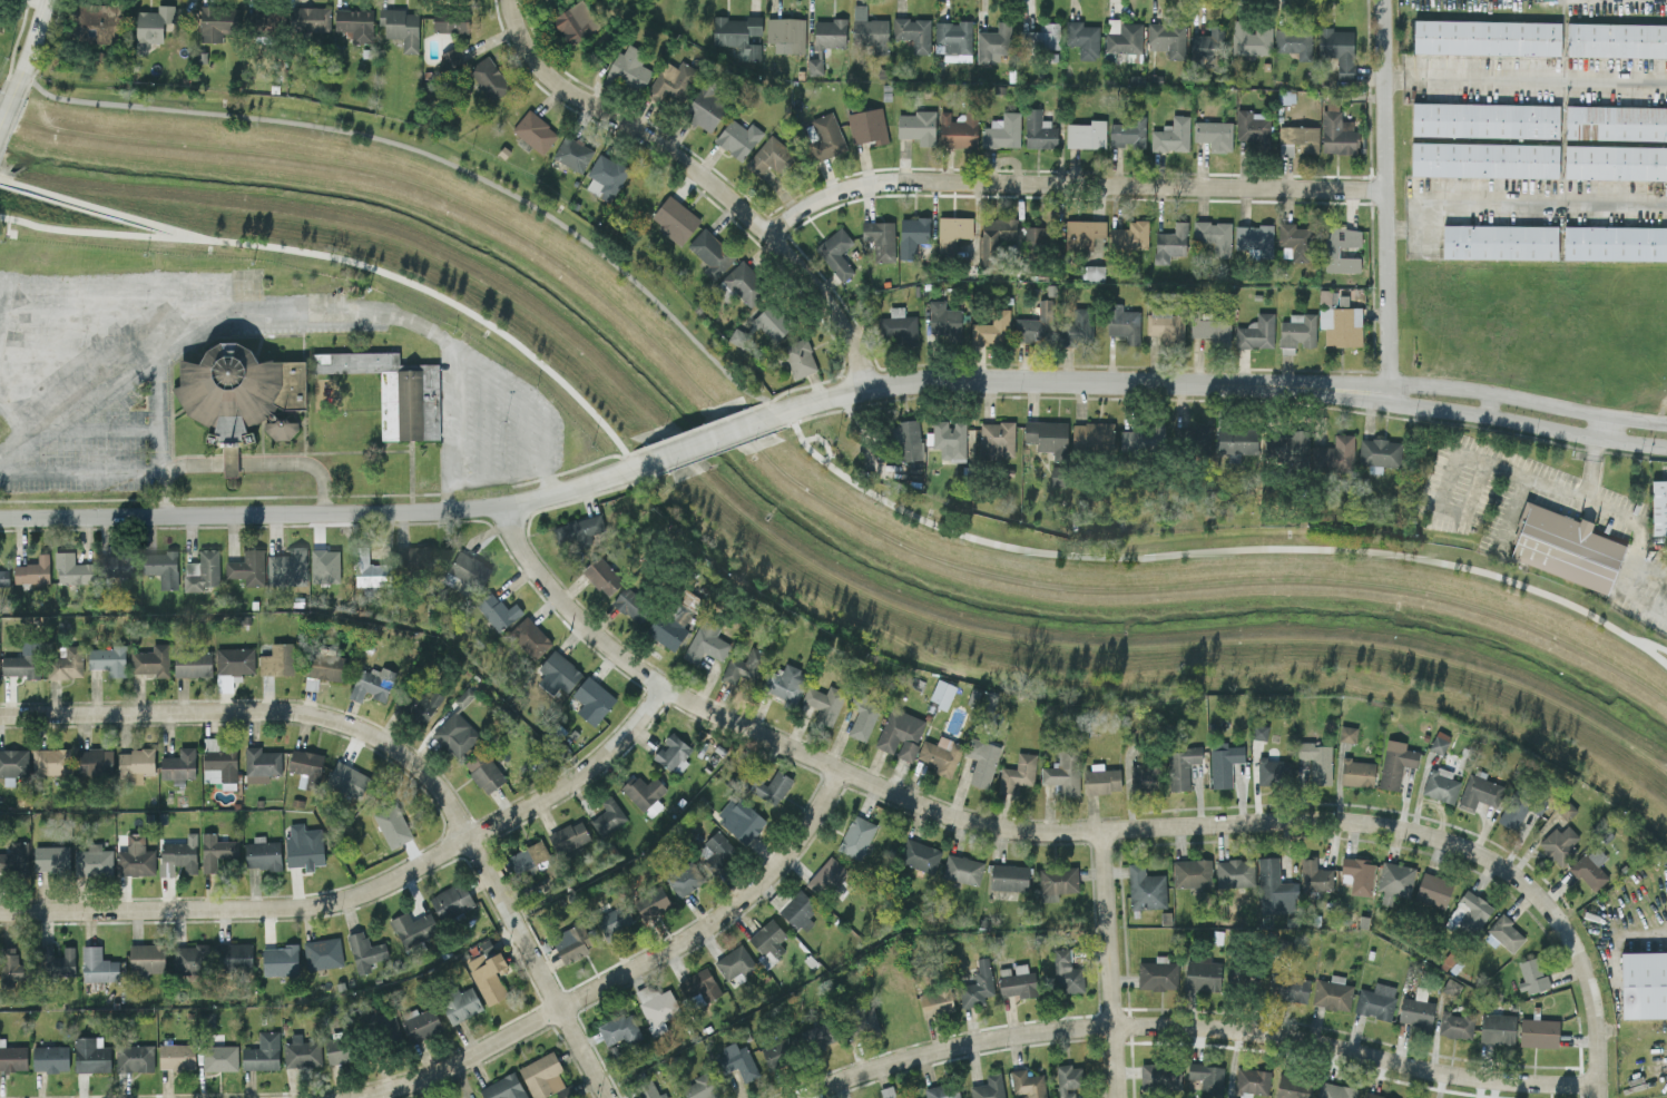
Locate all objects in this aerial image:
building: (312, 18)
building: (98, 21)
building: (216, 21)
building: (451, 21)
building: (355, 22)
building: (570, 24)
building: (151, 26)
building: (400, 27)
building: (870, 30)
building: (830, 32)
building: (913, 32)
building: (786, 33)
building: (738, 35)
building: (1040, 37)
building: (1487, 37)
building: (1082, 38)
building: (1167, 38)
building: (1251, 38)
building: (954, 39)
building: (1616, 39)
building: (1294, 40)
building: (994, 43)
building: (1205, 48)
building: (1338, 49)
road: (27, 50)
building: (814, 66)
building: (630, 68)
building: (489, 77)
building: (673, 79)
road: (1526, 79)
building: (705, 106)
road: (3, 109)
building: (1484, 119)
building: (1616, 122)
building: (867, 126)
building: (918, 126)
building: (1252, 126)
building: (958, 129)
building: (1039, 129)
building: (535, 130)
building: (1003, 130)
building: (1128, 130)
building: (1337, 133)
building: (1087, 134)
building: (1214, 134)
building: (1171, 135)
building: (825, 136)
building: (738, 138)
building: (1297, 138)
building: (572, 153)
building: (769, 156)
building: (1484, 159)
building: (1615, 161)
building: (606, 176)
road: (702, 177)
road: (1069, 184)
road: (1385, 200)
road: (1512, 204)
road: (97, 208)
building: (675, 218)
building: (867, 231)
building: (952, 233)
building: (1086, 234)
building: (912, 235)
building: (1130, 235)
building: (1214, 235)
building: (994, 237)
building: (1034, 237)
building: (1254, 237)
building: (1293, 238)
building: (883, 241)
building: (1499, 241)
building: (1168, 242)
building: (1615, 243)
building: (1331, 251)
building: (710, 253)
building: (836, 253)
road: (352, 259)
building: (1091, 272)
road: (146, 275)
road: (1, 281)
building: (741, 284)
road: (312, 312)
building: (945, 320)
building: (1340, 321)
building: (772, 322)
building: (1124, 323)
building: (1037, 324)
building: (1166, 325)
building: (898, 326)
building: (1076, 327)
building: (991, 329)
building: (1212, 329)
building: (1256, 332)
building: (1296, 332)
building: (738, 336)
road: (77, 354)
building: (797, 357)
road: (136, 372)
road: (1030, 379)
road: (1347, 383)
building: (300, 390)
road: (155, 396)
road: (537, 396)
road: (1346, 396)
road: (1528, 400)
road: (483, 423)
road: (1528, 423)
road: (1598, 425)
road: (46, 427)
road: (101, 429)
road: (520, 431)
building: (1092, 435)
building: (1048, 437)
building: (1193, 437)
building: (1141, 438)
building: (997, 439)
building: (906, 440)
building: (950, 440)
building: (1236, 440)
road: (703, 442)
building: (1288, 447)
road: (806, 448)
building: (1334, 453)
building: (1379, 453)
road: (1477, 457)
road: (242, 462)
road: (1590, 468)
road: (78, 471)
building: (1057, 474)
road: (496, 479)
building: (1658, 506)
road: (326, 512)
road: (1507, 514)
building: (579, 530)
road: (1637, 540)
building: (1565, 547)
building: (418, 555)
building: (116, 563)
building: (286, 565)
building: (324, 565)
building: (247, 566)
building: (159, 567)
building: (71, 568)
building: (203, 569)
building: (469, 569)
building: (32, 570)
building: (371, 570)
road: (1650, 570)
building: (601, 575)
building: (3, 576)
road: (1635, 599)
building: (631, 604)
building: (497, 610)
building: (676, 617)
building: (529, 637)
building: (705, 641)
road: (1655, 645)
building: (22, 659)
building: (107, 659)
building: (151, 659)
building: (235, 659)
building: (277, 659)
building: (65, 663)
building: (193, 663)
building: (324, 665)
building: (741, 665)
building: (559, 670)
building: (784, 682)
building: (372, 683)
building: (941, 693)
building: (591, 699)
building: (824, 703)
building: (422, 704)
road: (258, 708)
building: (862, 720)
building: (457, 727)
building: (1258, 731)
building: (1346, 732)
building: (900, 733)
building: (1439, 742)
building: (671, 753)
building: (940, 754)
building: (49, 759)
building: (981, 759)
building: (94, 761)
building: (1316, 761)
building: (13, 762)
building: (262, 762)
building: (1223, 762)
building: (1395, 762)
building: (135, 763)
building: (178, 764)
building: (1181, 764)
building: (305, 766)
building: (1274, 769)
building: (483, 771)
building: (1062, 771)
building: (1017, 772)
building: (1356, 772)
building: (1144, 775)
building: (347, 778)
building: (1100, 778)
building: (1440, 784)
building: (771, 786)
building: (1478, 790)
building: (644, 793)
building: (1520, 808)
building: (1566, 810)
building: (607, 815)
building: (739, 817)
building: (392, 824)
road: (982, 824)
building: (568, 835)
building: (855, 835)
building: (1559, 843)
building: (303, 845)
building: (215, 850)
building: (717, 850)
building: (263, 853)
building: (178, 854)
building: (919, 854)
building: (13, 855)
building: (135, 855)
building: (50, 857)
building: (529, 857)
building: (92, 860)
building: (1590, 867)
building: (962, 869)
building: (1192, 872)
building: (1234, 872)
building: (1315, 874)
building: (1356, 874)
building: (684, 876)
building: (826, 876)
building: (1008, 876)
building: (1394, 880)
building: (1056, 881)
building: (1145, 888)
building: (1273, 888)
building: (1433, 889)
road: (363, 890)
building: (451, 899)
building: (650, 901)
building: (798, 909)
building: (1472, 910)
building: (612, 919)
building: (413, 927)
building: (1506, 932)
building: (767, 939)
building: (571, 942)
building: (487, 948)
building: (364, 950)
building: (322, 952)
building: (235, 955)
building: (146, 957)
building: (188, 958)
building: (280, 959)
building: (56, 960)
building: (734, 961)
building: (9, 963)
road: (1106, 963)
building: (97, 964)
road: (539, 965)
road: (626, 971)
building: (1066, 971)
building: (1157, 973)
building: (487, 974)
building: (1202, 974)
building: (1530, 974)
building: (1016, 980)
building: (700, 983)
building: (1644, 983)
building: (977, 984)
building: (1291, 988)
building: (1332, 992)
road: (1594, 999)
building: (935, 1000)
building: (1375, 1000)
building: (459, 1003)
building: (656, 1006)
building: (1415, 1008)
building: (866, 1019)
building: (420, 1021)
building: (1455, 1022)
road: (1194, 1023)
building: (380, 1026)
building: (619, 1028)
building: (1497, 1028)
building: (1538, 1032)
building: (820, 1033)
building: (337, 1048)
building: (778, 1050)
building: (262, 1051)
building: (301, 1051)
building: (90, 1053)
building: (176, 1055)
building: (219, 1056)
building: (12, 1057)
building: (50, 1057)
building: (134, 1057)
building: (737, 1060)
building: (1159, 1076)
building: (543, 1077)
building: (1207, 1077)
building: (1067, 1079)
building: (1251, 1081)
building: (1027, 1082)
building: (503, 1087)
building: (699, 1087)
building: (988, 1087)
building: (1294, 1087)
building: (647, 1090)
building: (942, 1090)
building: (1334, 1090)
building: (888, 1091)
building: (912, 1096)
building: (1376, 1096)

